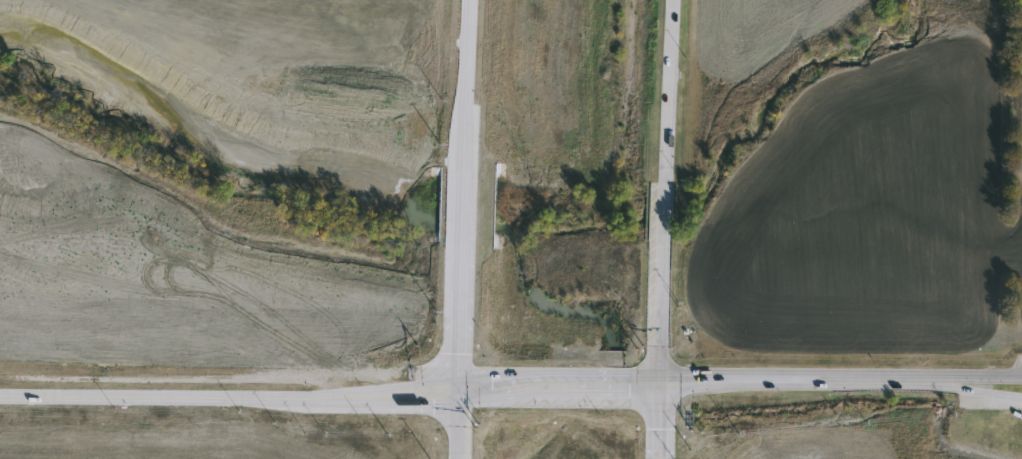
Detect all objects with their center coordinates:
crop: (266, 41)
road: (663, 191)
road: (464, 229)
traffic signals: (462, 340)
road: (455, 370)
traffic signals: (486, 370)
traffic signals: (680, 376)
road: (841, 378)
road: (126, 396)
traffic signals: (434, 402)
road: (560, 402)
road: (357, 403)
traffic signals: (628, 404)
road: (841, 407)
road: (660, 421)
traffic signals: (660, 435)

